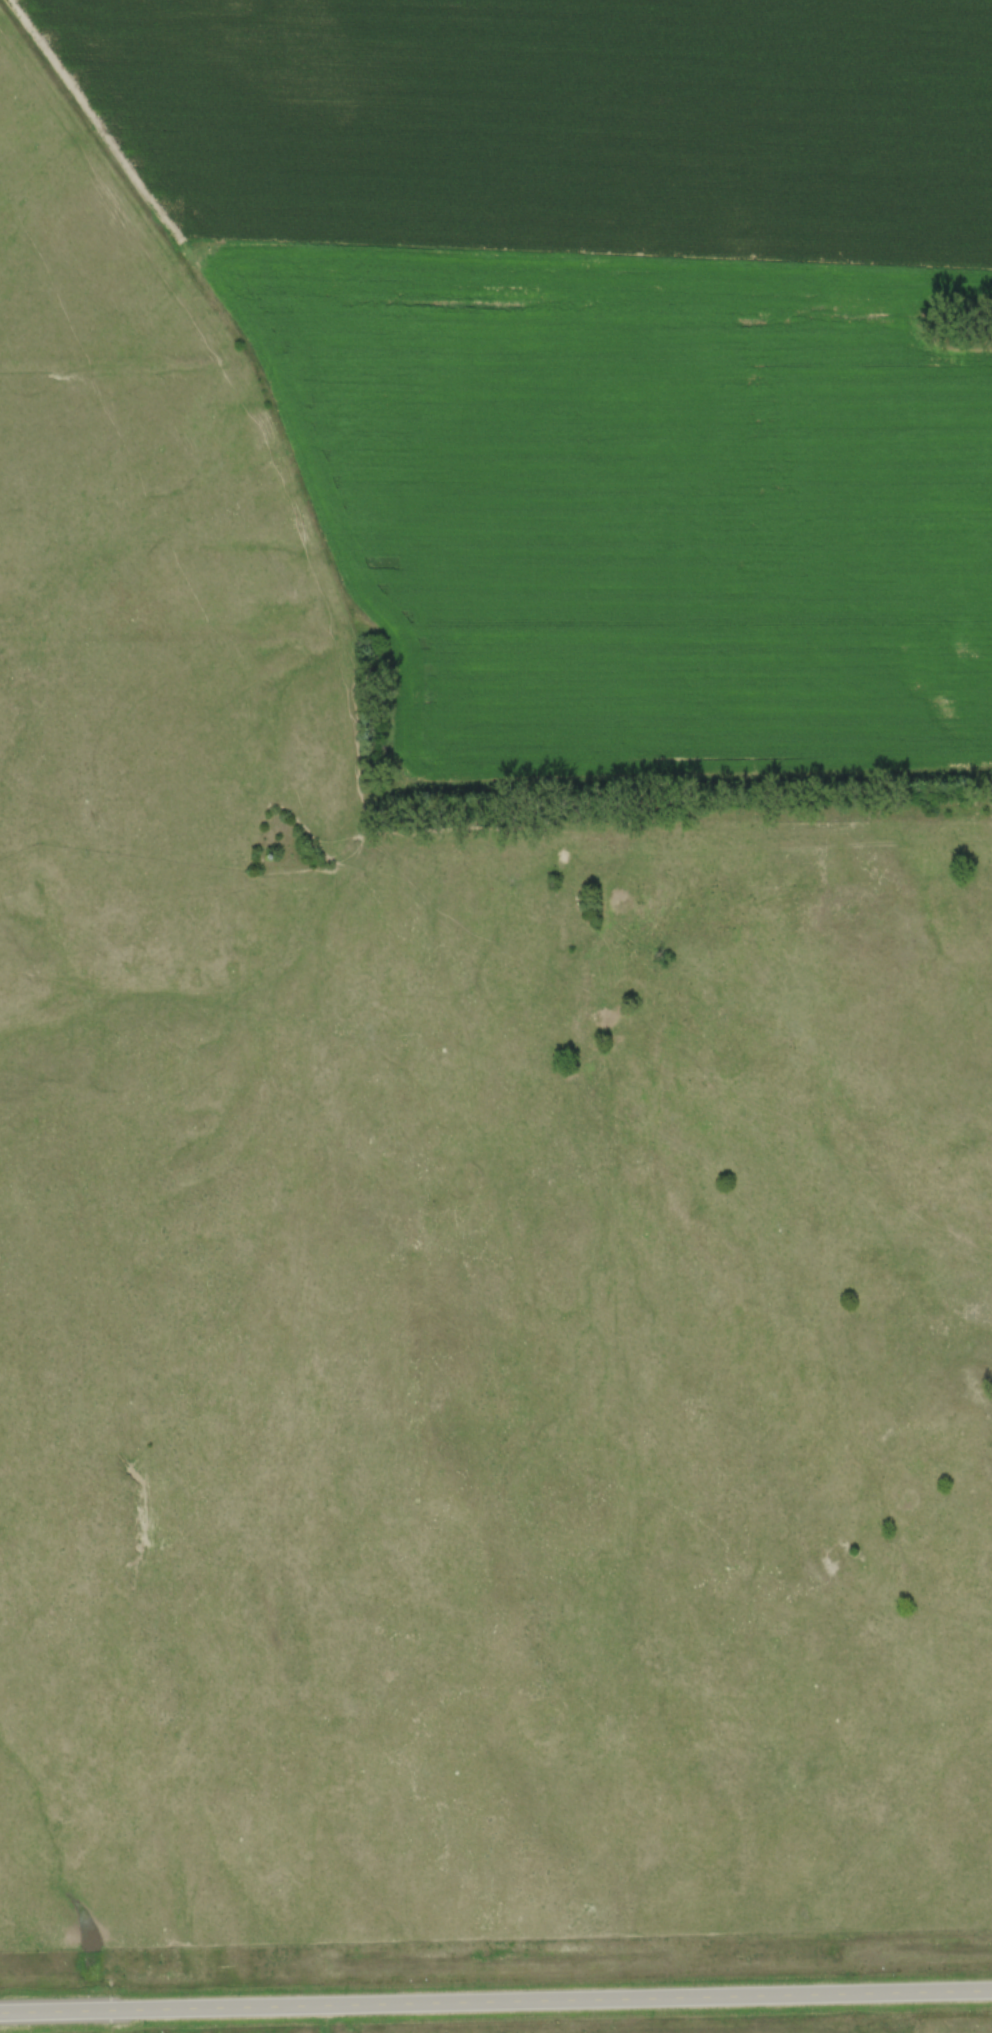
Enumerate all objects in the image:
road: (496, 2003)

